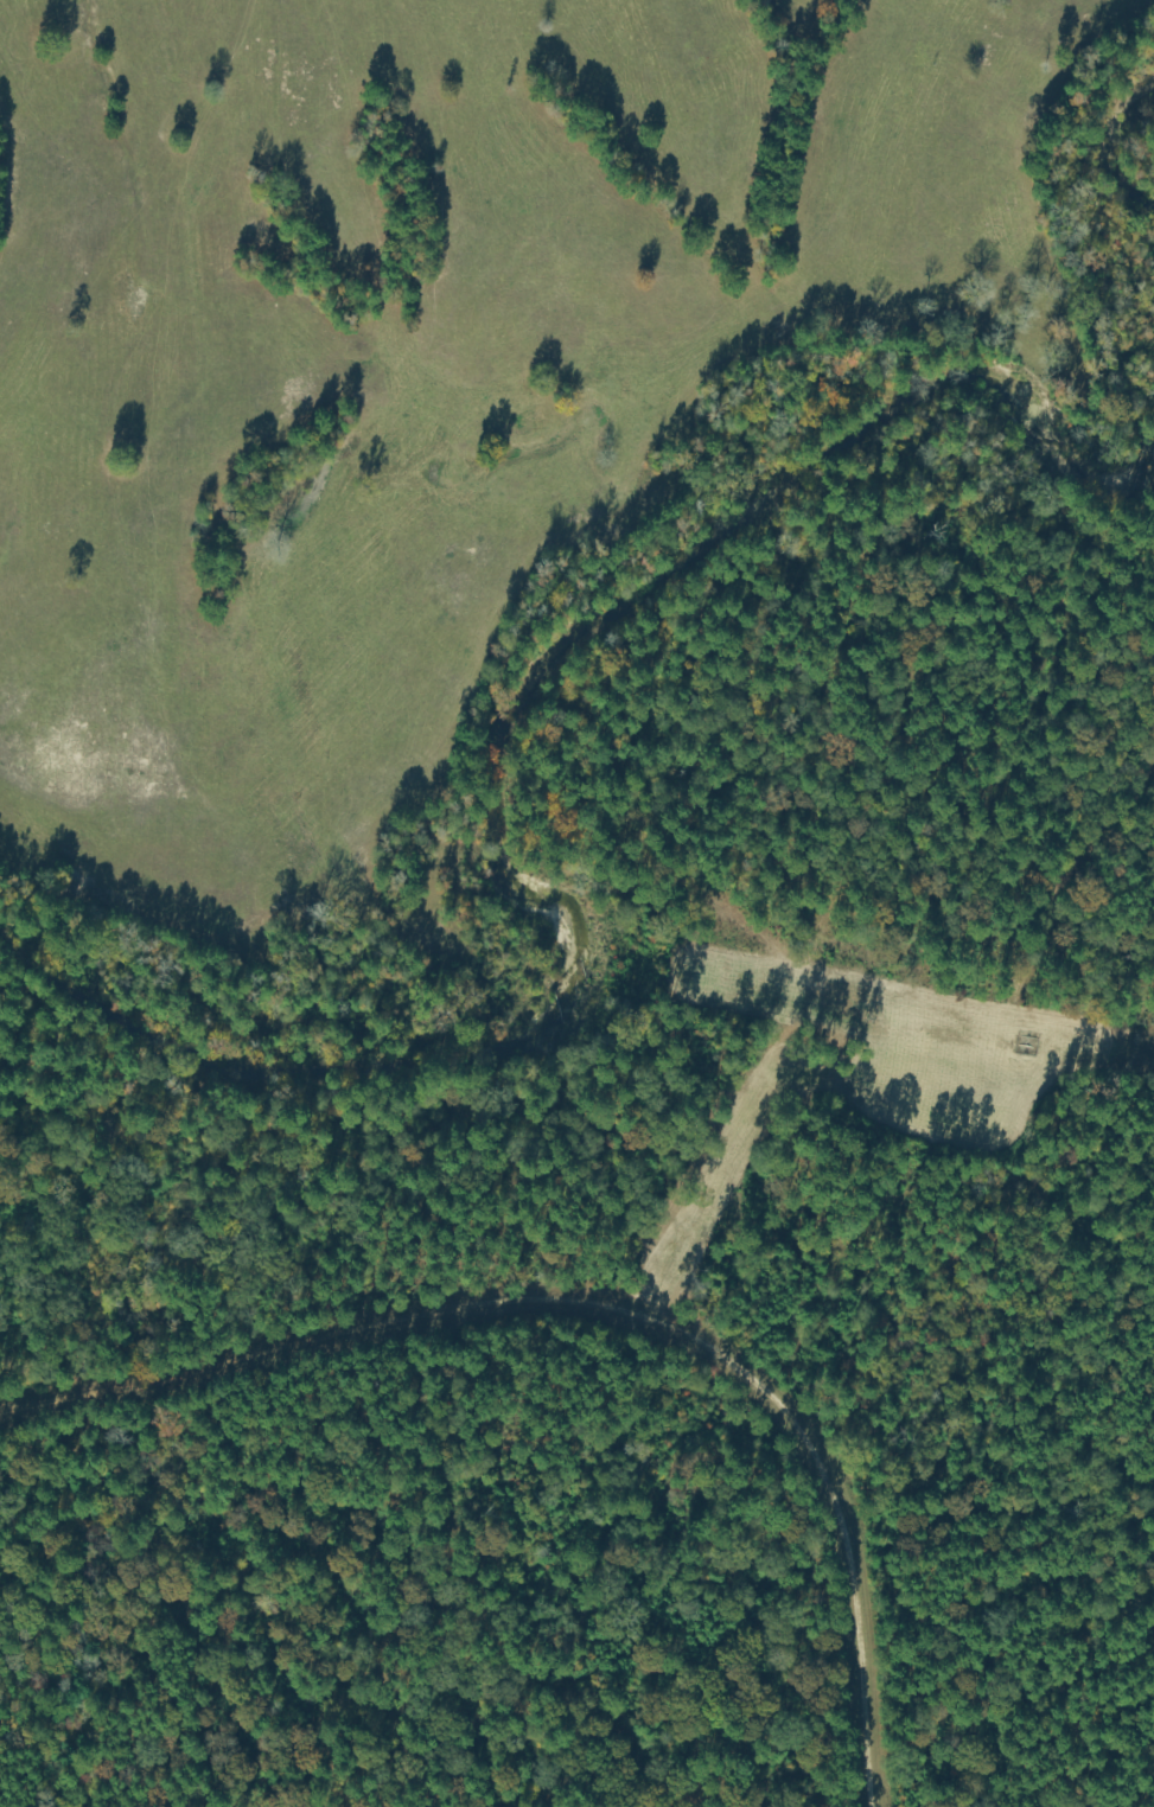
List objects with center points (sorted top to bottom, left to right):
road: (612, 1311)

